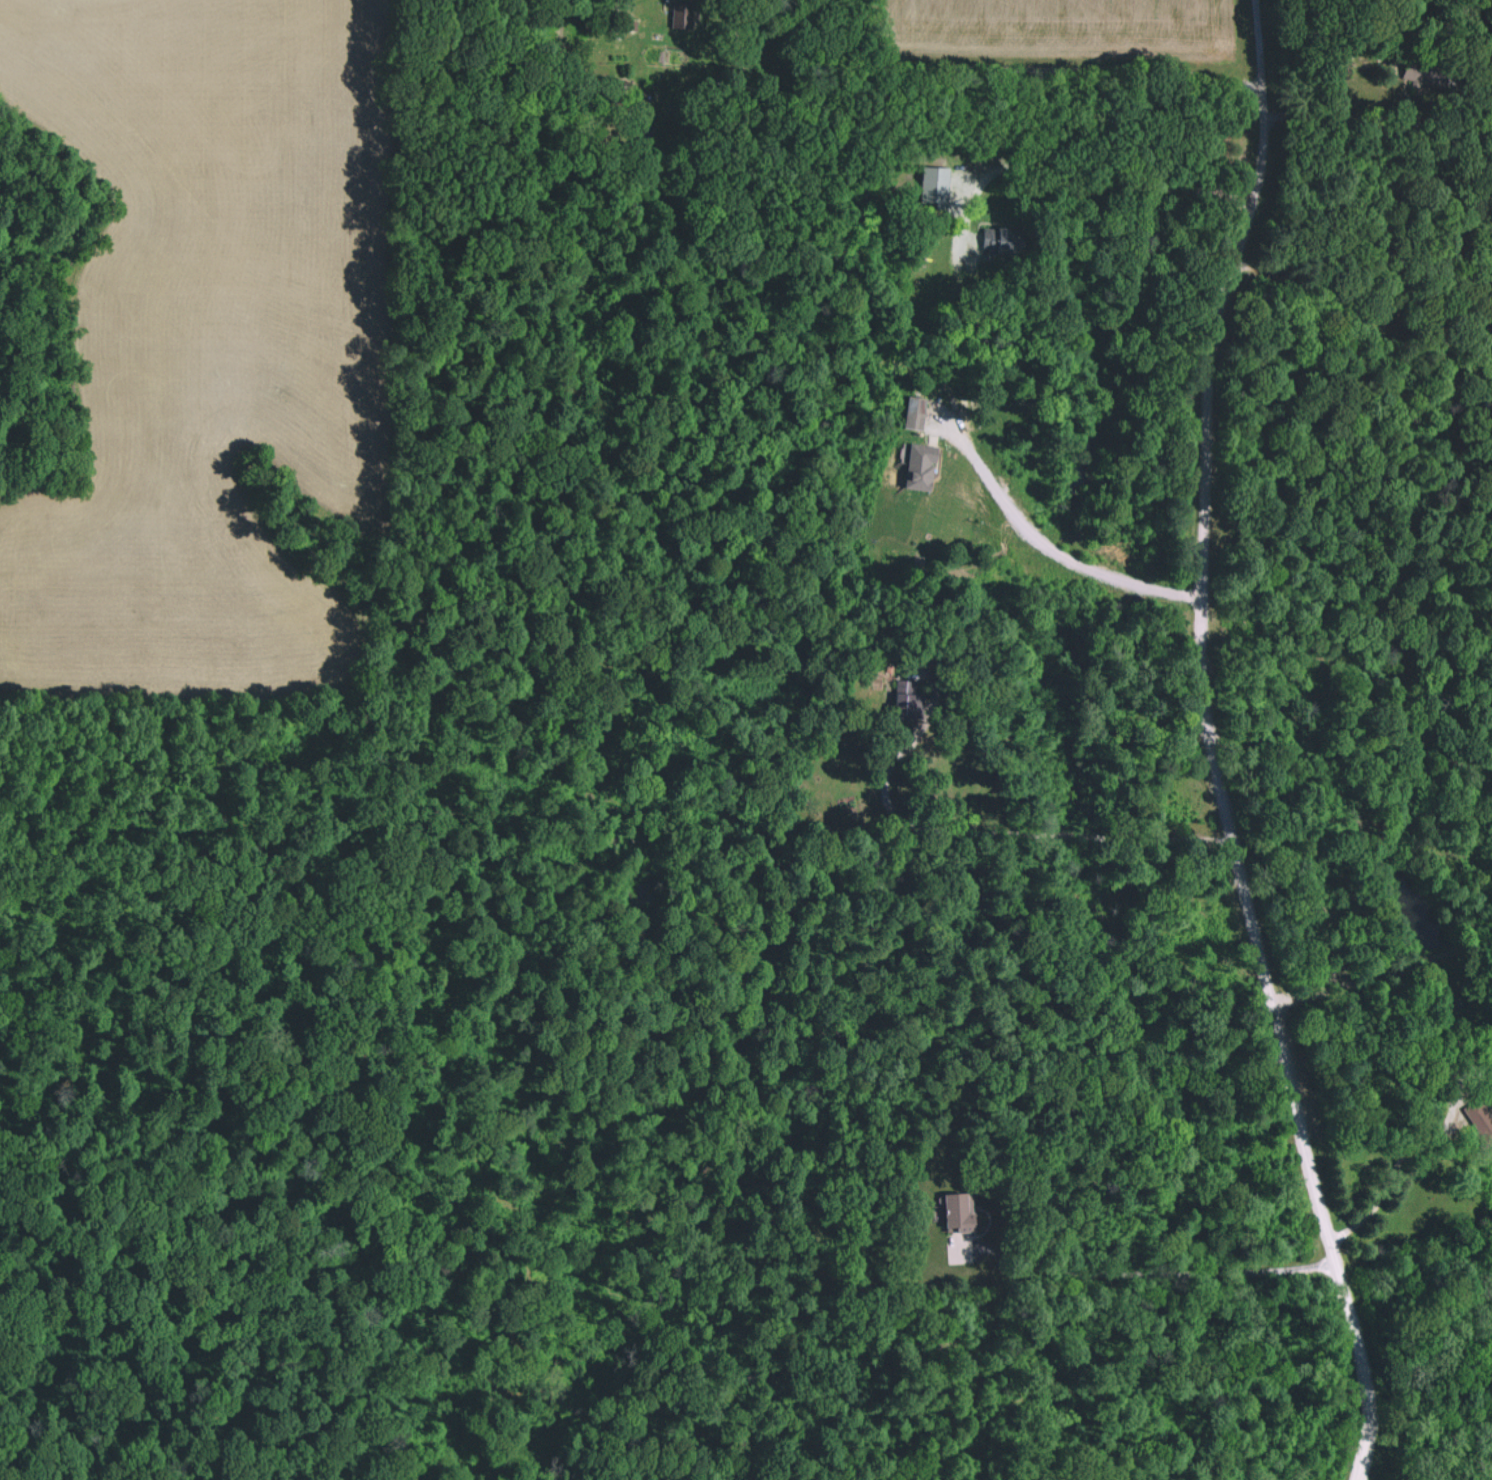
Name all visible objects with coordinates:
road: (953, 66)
road: (1344, 122)
road: (1079, 183)
road: (1044, 545)
road: (1209, 747)
road: (972, 834)
road: (1414, 1148)
building: (956, 1209)
road: (1147, 1275)

